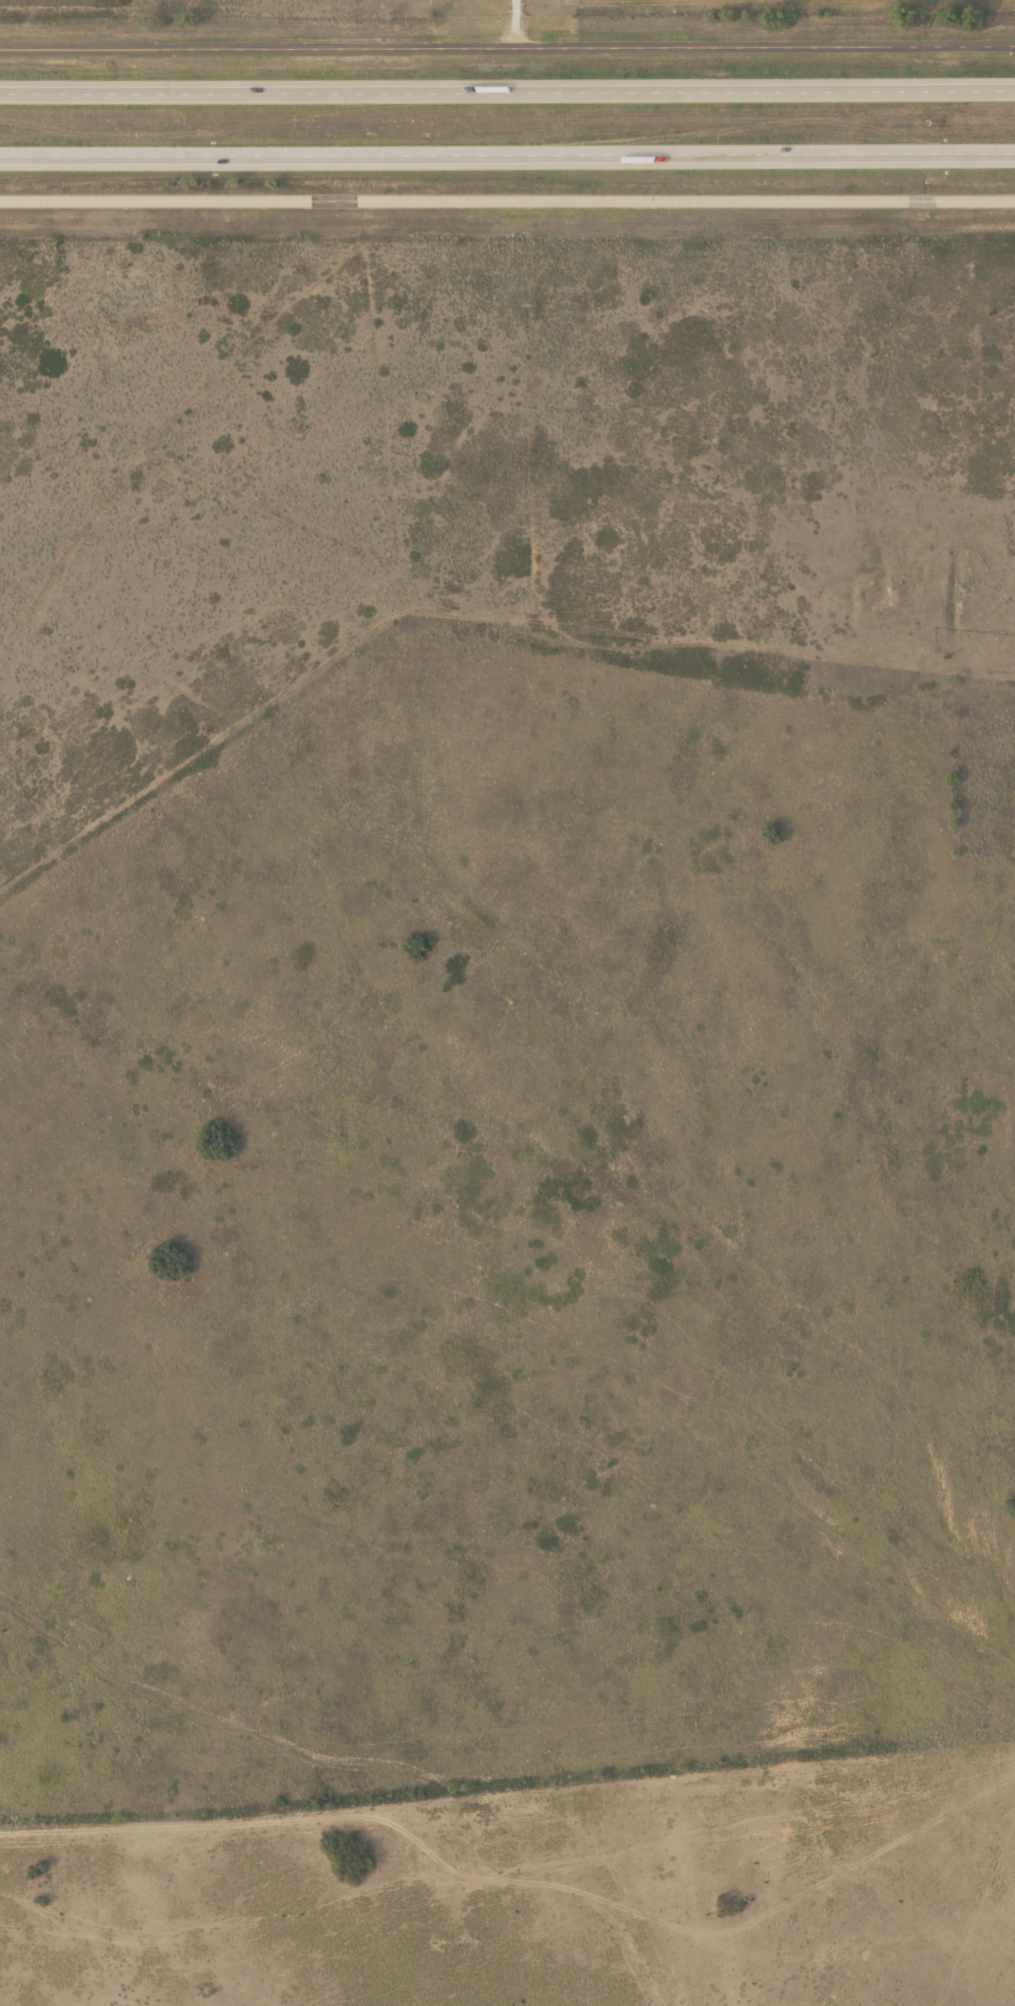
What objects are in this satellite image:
road: (507, 45)
road: (507, 88)
road: (507, 153)
road: (507, 199)

